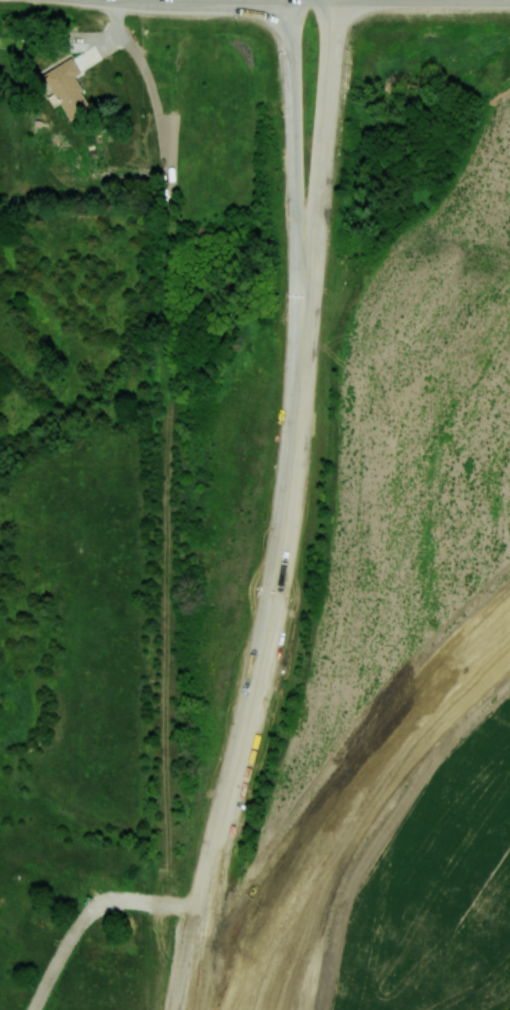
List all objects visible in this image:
building: (68, 87)
road: (295, 457)
road: (353, 803)
crop: (437, 891)

